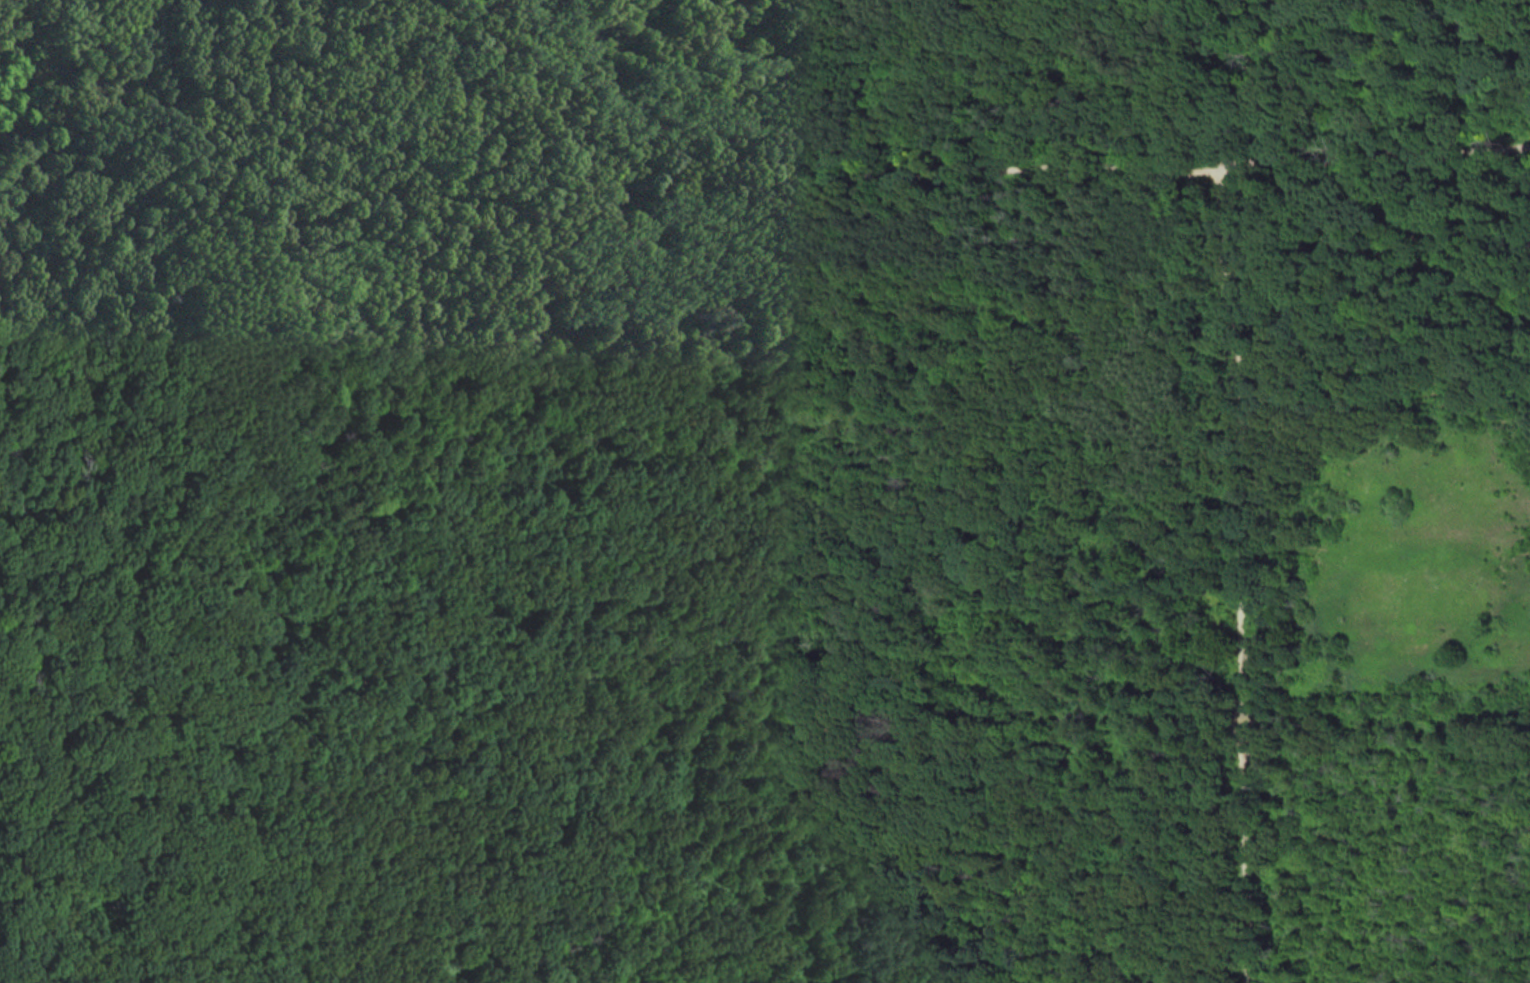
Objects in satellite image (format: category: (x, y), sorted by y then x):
road: (1345, 55)
road: (1311, 125)
road: (1270, 144)
road: (745, 181)
park: (765, 491)
road: (1238, 572)

